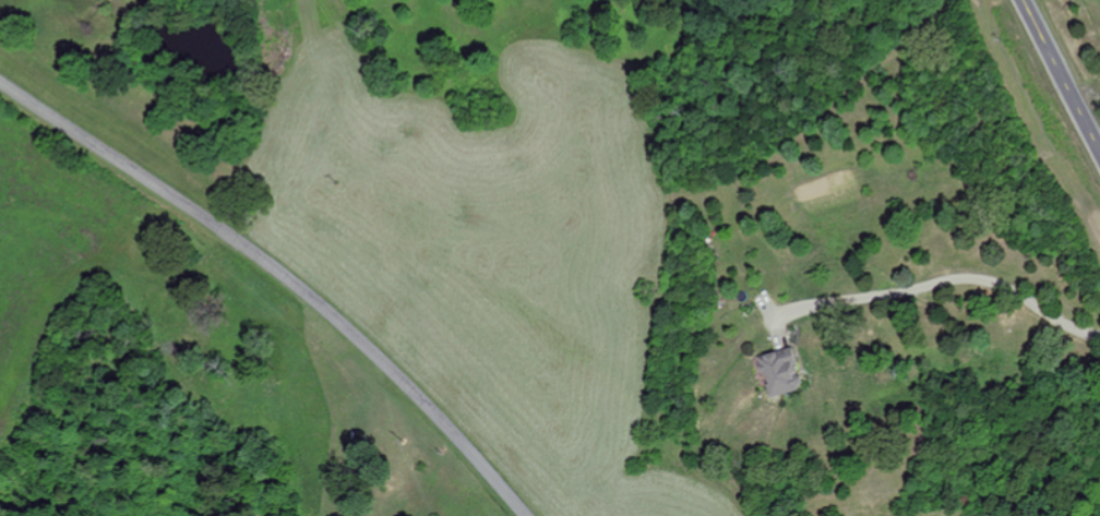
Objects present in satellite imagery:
road: (1061, 74)
road: (283, 275)
road: (942, 279)
building: (777, 372)

